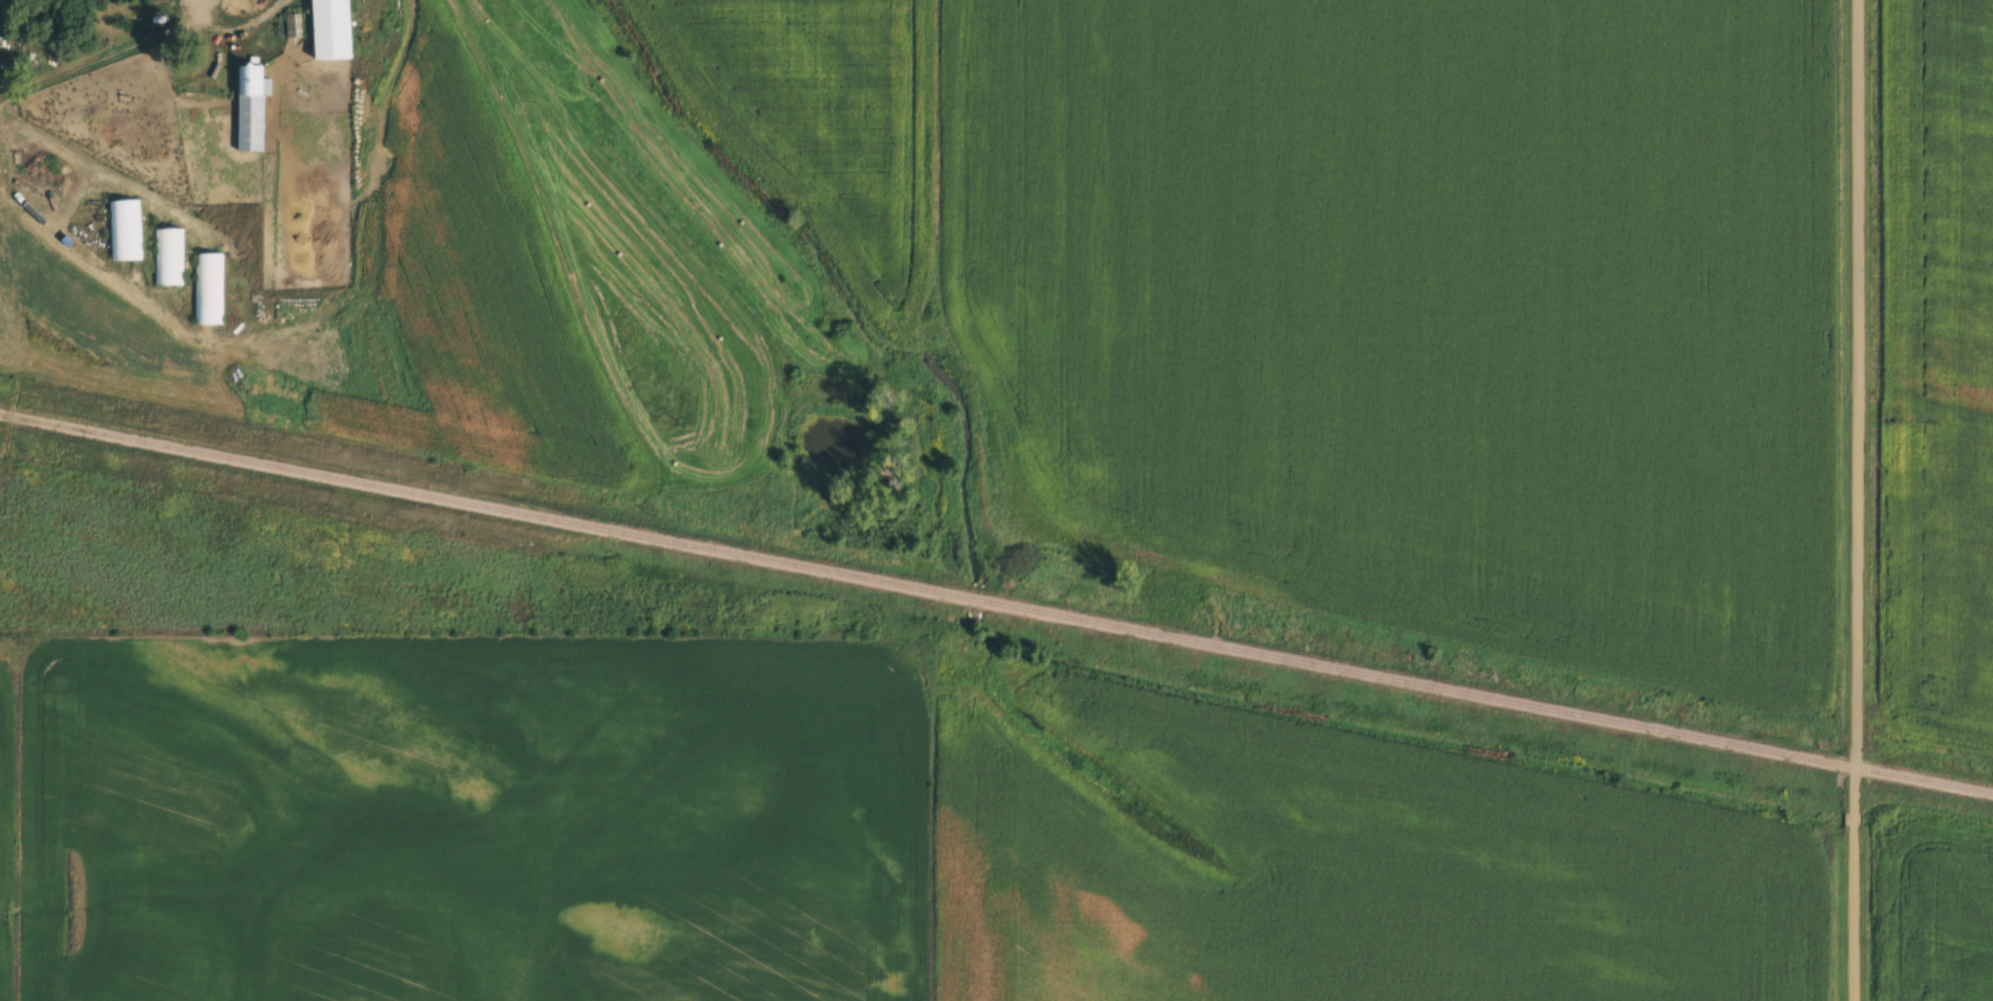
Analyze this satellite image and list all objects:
road: (181, 11)
building: (332, 29)
road: (144, 36)
road: (0, 84)
building: (250, 106)
building: (124, 229)
building: (167, 255)
building: (207, 288)
road: (301, 309)
road: (13, 322)
crop: (1939, 367)
road: (1856, 406)
railway: (996, 604)
road: (1852, 819)
crop: (1933, 908)
road: (1851, 913)

